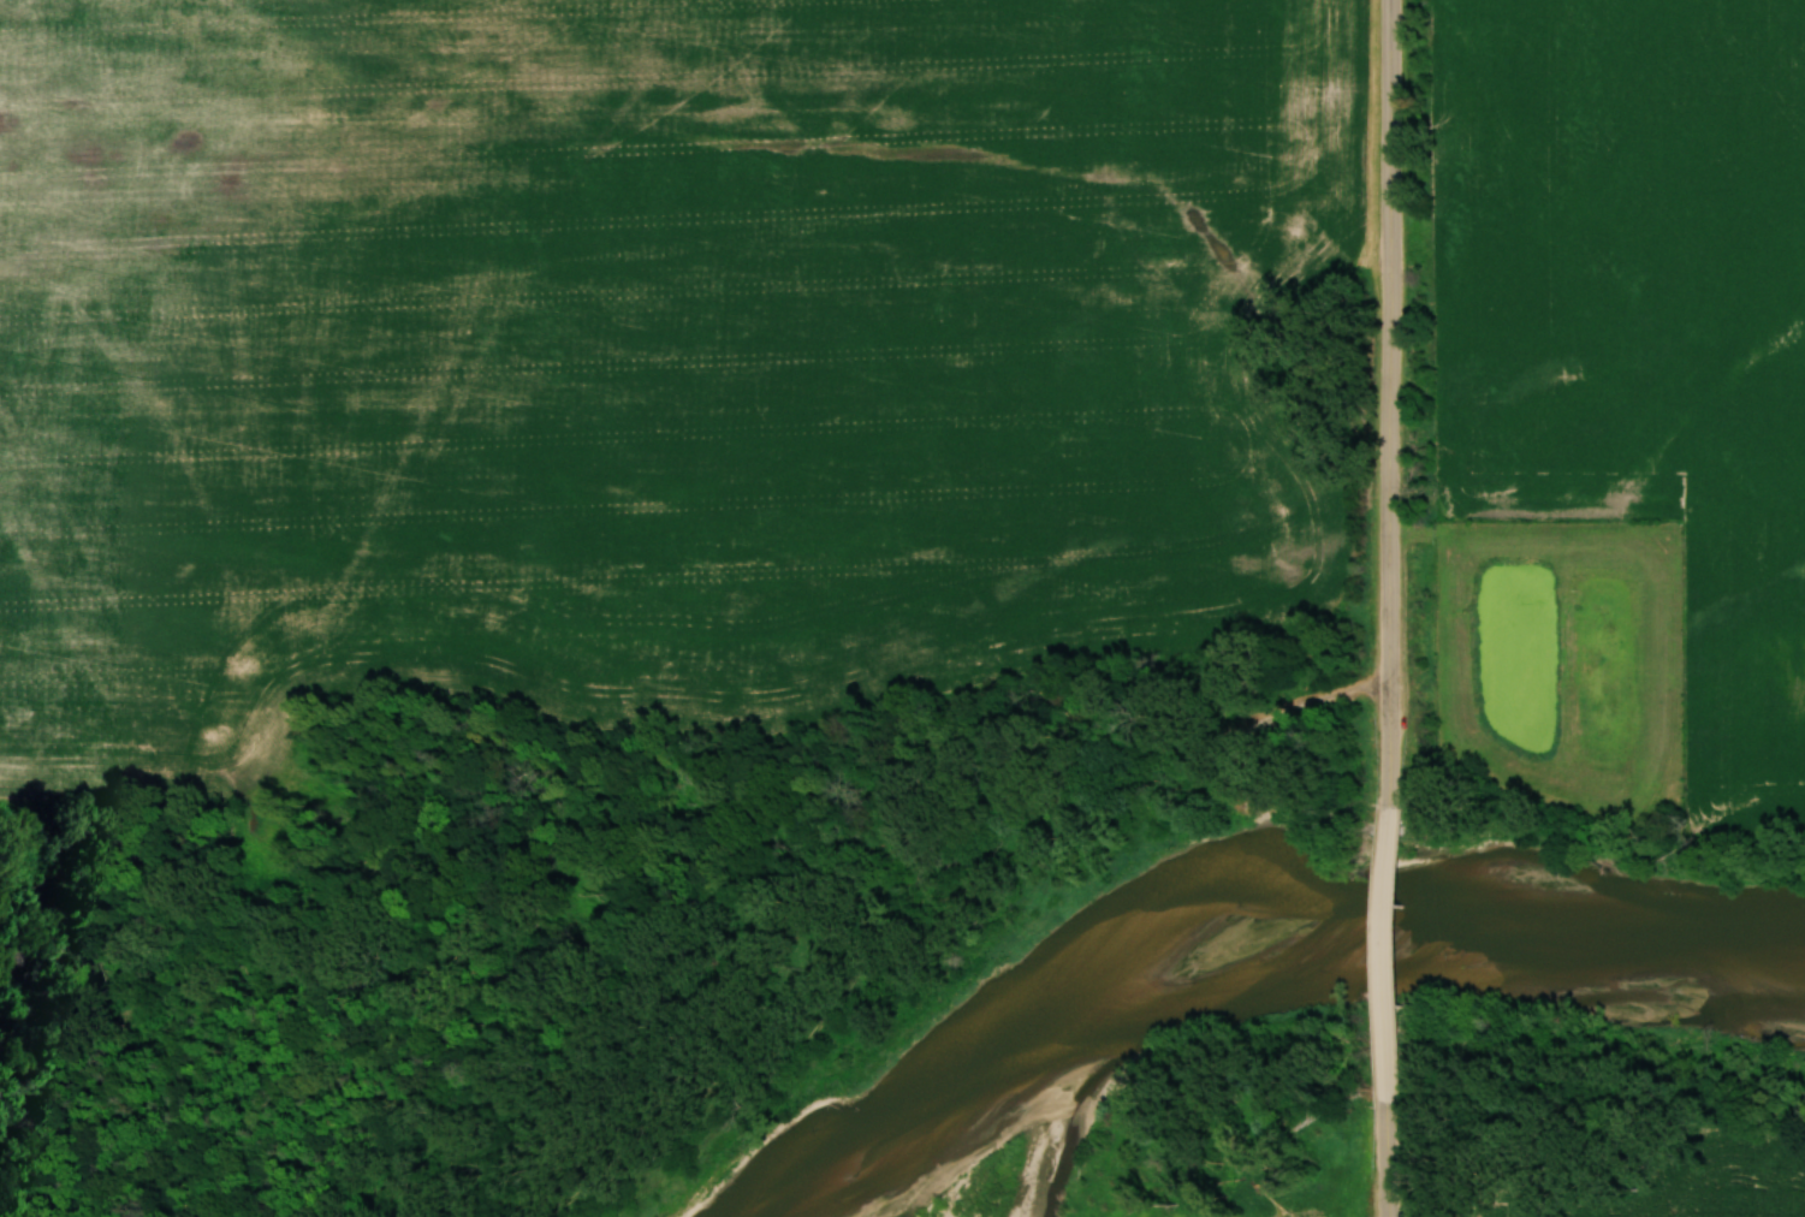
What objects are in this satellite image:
road: (1388, 403)
river: (1283, 902)
road: (1388, 954)
road: (1389, 1159)

